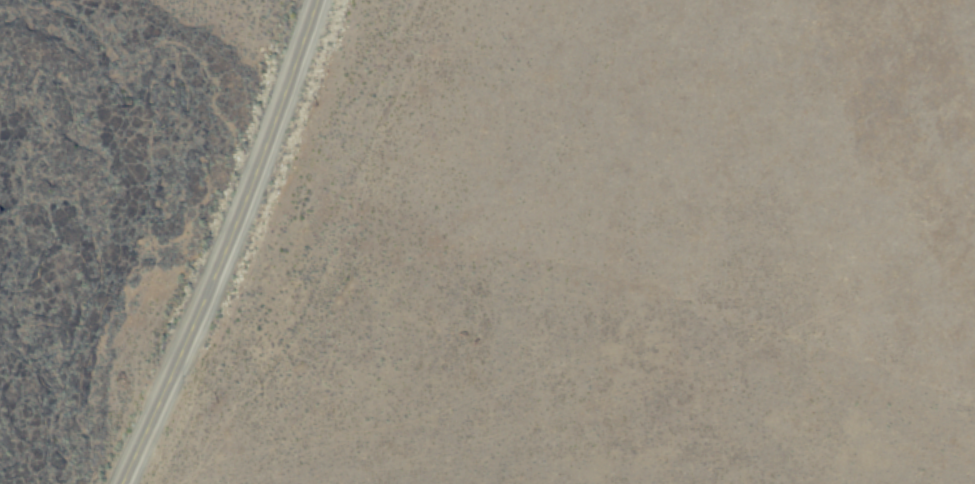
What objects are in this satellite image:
road: (228, 245)

